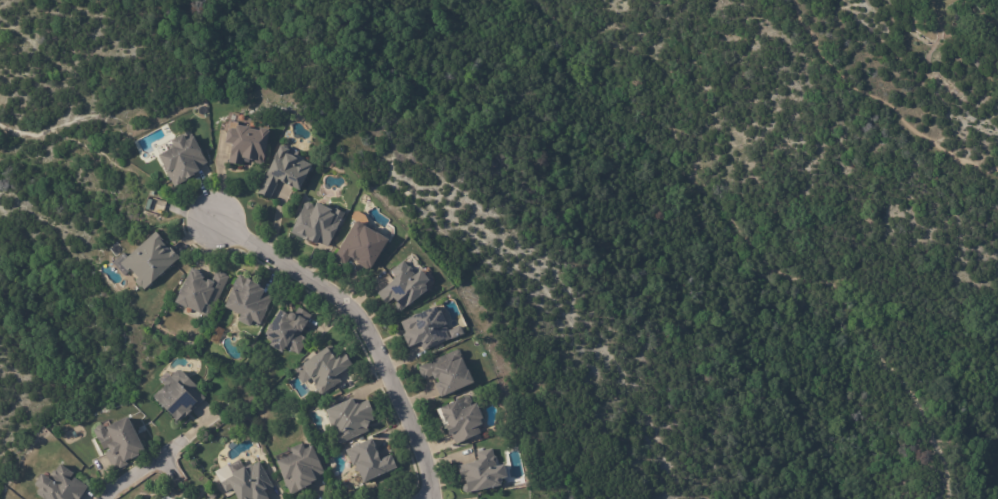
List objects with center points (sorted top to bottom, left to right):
building: (246, 145)
building: (180, 158)
building: (282, 173)
building: (155, 203)
building: (314, 223)
building: (358, 246)
building: (148, 260)
building: (403, 287)
building: (199, 292)
building: (246, 302)
road: (355, 328)
building: (287, 330)
building: (422, 330)
building: (452, 332)
building: (214, 335)
building: (323, 369)
building: (447, 373)
building: (174, 394)
building: (347, 419)
building: (456, 420)
building: (116, 441)
building: (367, 460)
building: (297, 467)
road: (135, 469)
building: (480, 472)
building: (246, 481)
building: (56, 485)
building: (210, 495)
building: (199, 498)

